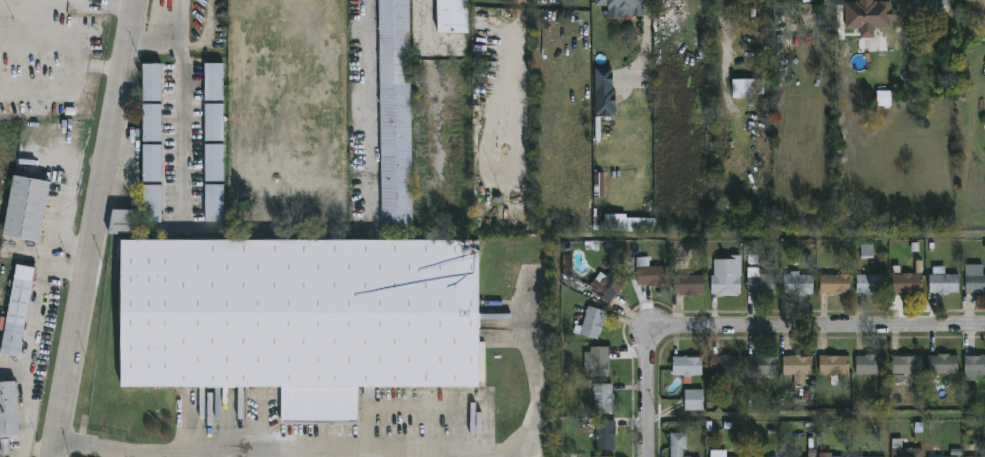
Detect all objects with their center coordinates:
building: (808, 1)
road: (524, 5)
building: (939, 6)
building: (623, 7)
road: (430, 8)
building: (977, 10)
building: (452, 16)
building: (876, 22)
building: (604, 80)
building: (152, 82)
building: (213, 82)
building: (748, 88)
road: (522, 90)
road: (184, 96)
building: (883, 98)
road: (371, 109)
building: (395, 115)
building: (151, 122)
building: (213, 122)
building: (152, 163)
building: (214, 163)
building: (152, 203)
building: (214, 203)
building: (27, 209)
building: (123, 222)
building: (639, 224)
road: (96, 228)
building: (866, 251)
building: (650, 273)
building: (727, 277)
building: (975, 279)
building: (689, 282)
building: (762, 282)
building: (873, 283)
building: (799, 284)
building: (836, 284)
building: (908, 284)
building: (945, 284)
building: (608, 286)
building: (17, 311)
building: (301, 318)
building: (593, 322)
road: (828, 327)
road: (32, 343)
building: (598, 362)
building: (834, 365)
building: (872, 365)
building: (908, 365)
building: (943, 365)
building: (975, 365)
building: (762, 366)
building: (688, 368)
building: (724, 368)
building: (797, 370)
road: (644, 381)
building: (603, 399)
building: (694, 400)
building: (9, 408)
building: (606, 435)
building: (679, 444)
building: (4, 446)
building: (906, 449)
road: (40, 451)
building: (973, 451)
building: (719, 452)
building: (939, 452)
road: (207, 454)
building: (829, 454)
building: (749, 456)
building: (768, 456)
building: (784, 456)
building: (794, 456)
building: (868, 456)

